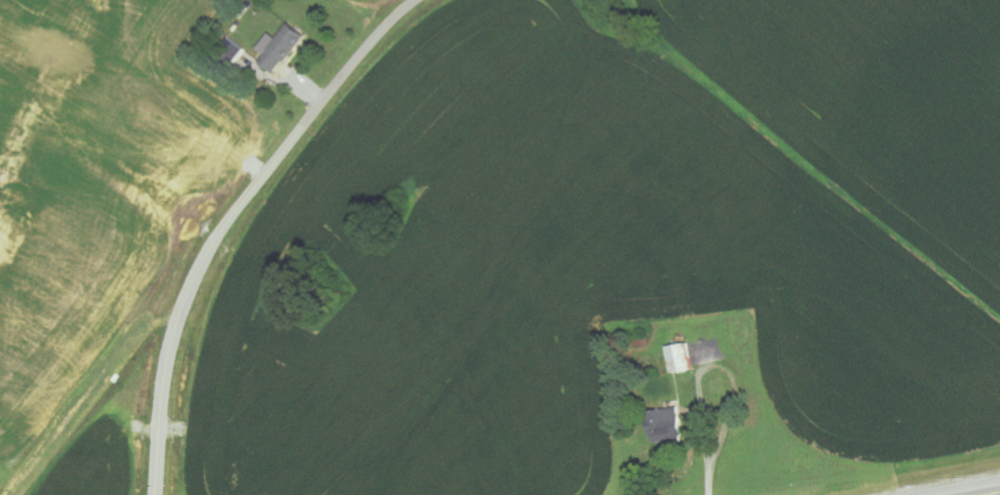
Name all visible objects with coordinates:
building: (279, 49)
road: (230, 219)
building: (677, 359)
building: (664, 427)
road: (933, 482)

